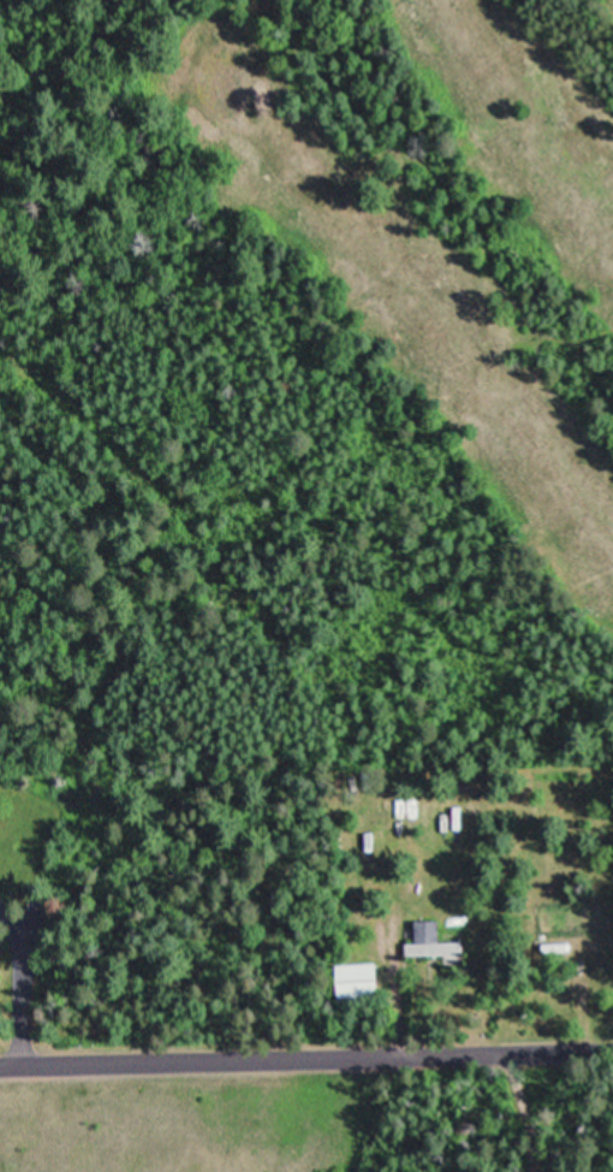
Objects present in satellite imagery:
road: (454, 191)
park: (425, 226)
road: (606, 618)
parking lot: (1, 902)
building: (436, 940)
building: (358, 978)
road: (22, 983)
road: (306, 1056)
road: (529, 1111)

